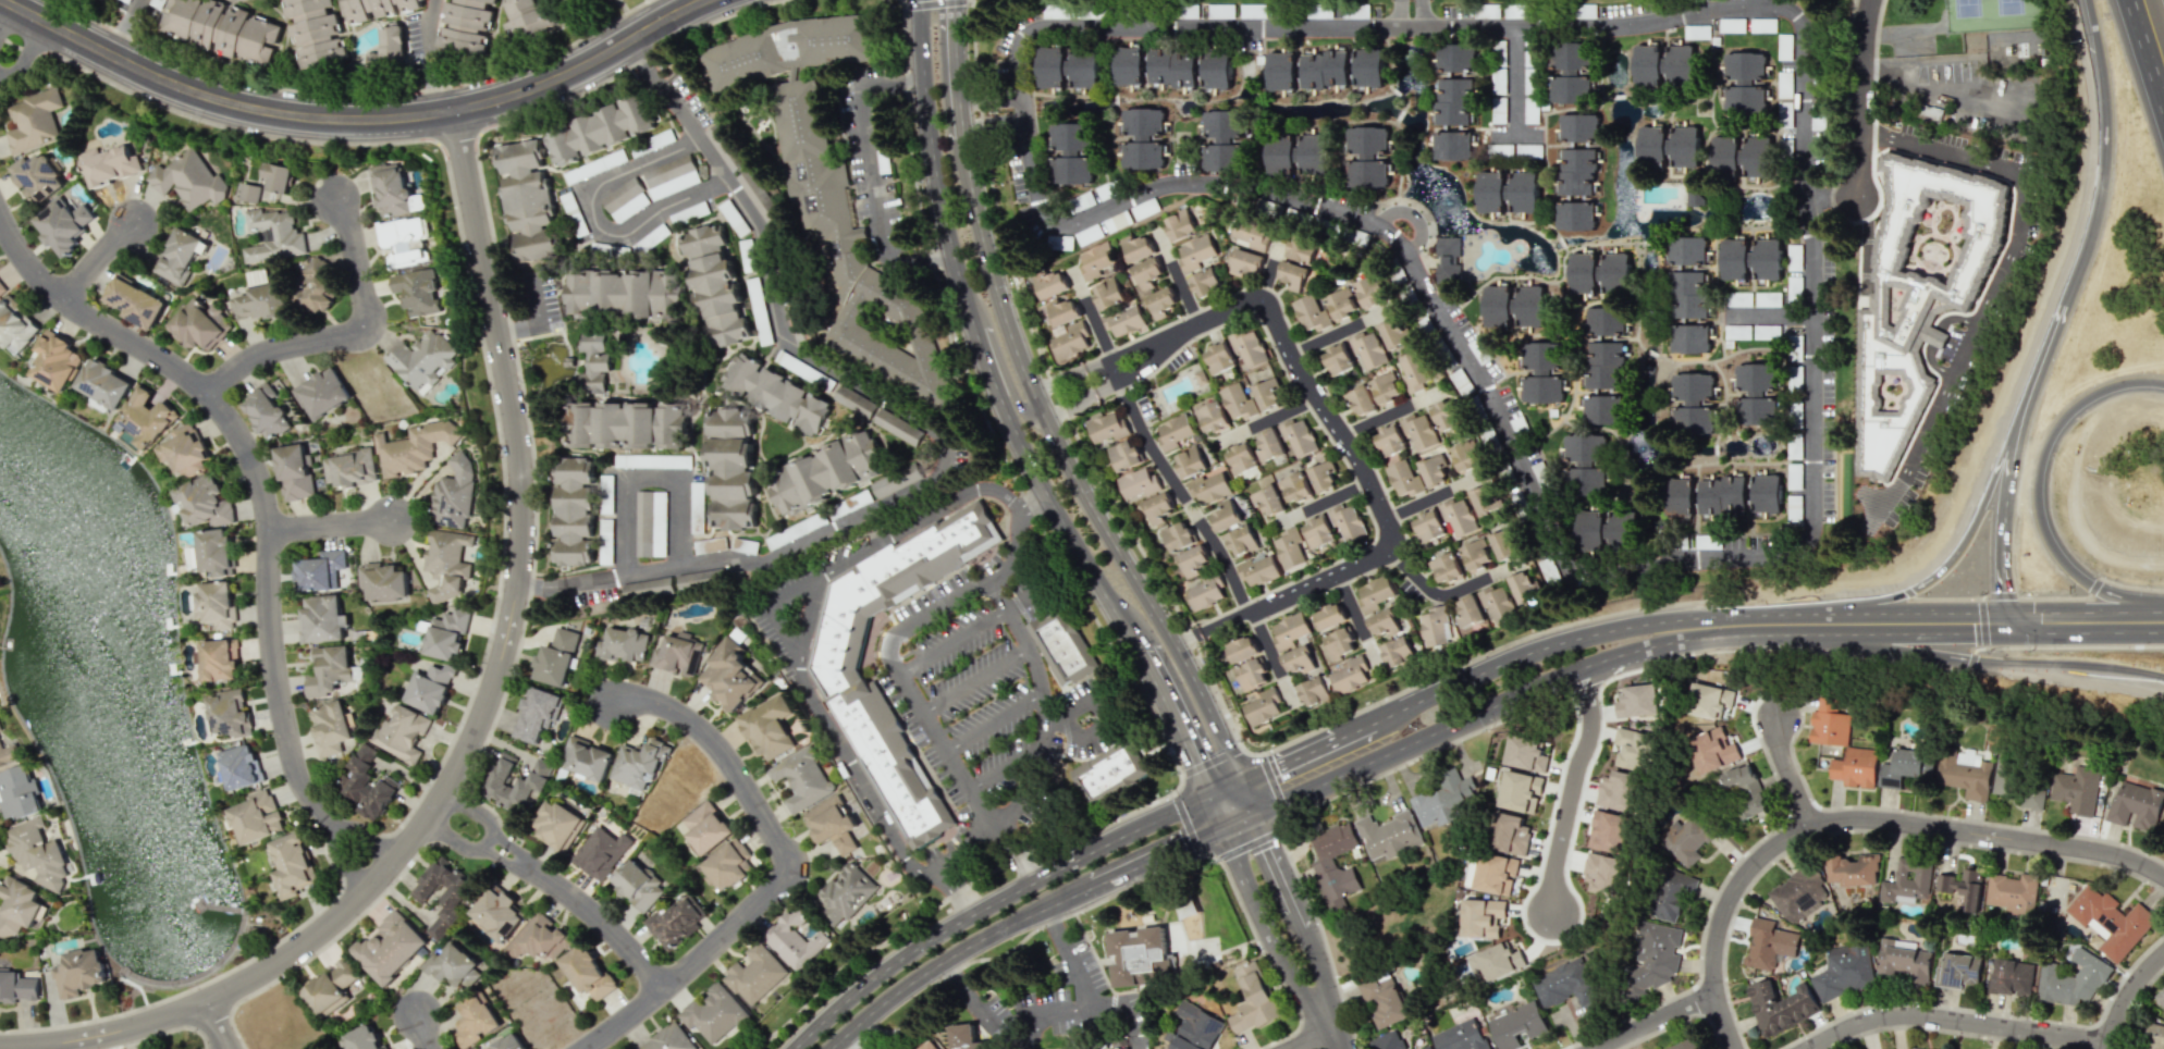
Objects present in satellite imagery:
building: (380, 8)
building: (1318, 11)
building: (1485, 11)
road: (1400, 14)
road: (1416, 14)
building: (194, 20)
building: (532, 20)
building: (466, 25)
building: (1730, 25)
building: (1762, 25)
road: (1499, 26)
road: (124, 27)
building: (234, 32)
road: (2094, 32)
building: (316, 33)
building: (260, 40)
building: (392, 44)
road: (15, 45)
road: (2147, 52)
road: (431, 57)
building: (1455, 57)
building: (1680, 64)
building: (1128, 65)
building: (1647, 65)
building: (1050, 66)
building: (1171, 66)
road: (955, 67)
building: (1368, 67)
building: (1084, 69)
building: (1324, 69)
building: (1216, 70)
building: (1498, 70)
building: (1280, 71)
building: (1571, 72)
road: (1515, 77)
building: (1528, 81)
building: (1744, 83)
road: (1941, 87)
road: (1859, 98)
building: (1453, 101)
building: (1530, 110)
road: (988, 114)
building: (1783, 118)
road: (356, 120)
building: (34, 121)
building: (1577, 127)
building: (603, 128)
building: (1142, 138)
building: (657, 139)
building: (720, 140)
building: (1221, 140)
building: (1651, 145)
building: (1452, 146)
building: (1685, 147)
building: (1314, 151)
building: (1070, 153)
building: (1724, 153)
building: (1279, 155)
building: (1367, 156)
building: (1758, 157)
building: (109, 164)
building: (1576, 171)
building: (37, 176)
building: (278, 176)
building: (672, 176)
road: (872, 176)
building: (189, 180)
road: (2101, 185)
building: (391, 188)
building: (832, 190)
building: (1490, 192)
building: (1523, 192)
building: (249, 193)
building: (1694, 195)
building: (758, 196)
road: (1832, 197)
building: (528, 199)
building: (625, 200)
building: (1082, 200)
road: (588, 214)
road: (1412, 214)
building: (1575, 215)
building: (735, 220)
building: (63, 224)
building: (1179, 225)
building: (1251, 234)
building: (274, 236)
building: (403, 239)
building: (1136, 247)
building: (1300, 248)
building: (1686, 249)
building: (1195, 252)
building: (748, 255)
building: (180, 256)
building: (1793, 257)
building: (1448, 259)
building: (1733, 259)
building: (1766, 259)
road: (98, 260)
building: (1097, 261)
building: (1244, 262)
building: (1615, 271)
building: (1146, 272)
road: (1268, 272)
building: (1583, 273)
building: (1292, 275)
road: (2000, 275)
road: (1179, 280)
building: (1205, 282)
building: (1049, 283)
building: (316, 286)
building: (715, 286)
building: (2, 288)
building: (418, 292)
building: (1368, 292)
building: (1916, 292)
building: (1106, 293)
building: (1688, 294)
building: (623, 295)
building: (1737, 299)
building: (1766, 299)
building: (261, 300)
building: (135, 301)
building: (1160, 301)
building: (1340, 304)
building: (1497, 305)
building: (1530, 306)
building: (1061, 311)
building: (1310, 312)
road: (1768, 313)
road: (1092, 320)
building: (1123, 320)
building: (1604, 320)
building: (15, 324)
building: (199, 324)
building: (1736, 331)
road: (1333, 332)
building: (1394, 334)
road: (348, 336)
building: (1689, 338)
building: (1070, 341)
road: (980, 342)
building: (1249, 347)
building: (1366, 350)
road: (994, 355)
building: (1218, 357)
road: (2043, 357)
building: (422, 359)
building: (1336, 359)
building: (56, 360)
building: (594, 361)
building: (789, 361)
building: (1603, 365)
road: (1093, 366)
building: (1416, 370)
building: (1541, 372)
building: (1794, 377)
building: (104, 383)
road: (1105, 384)
building: (1384, 388)
building: (323, 393)
building: (1267, 393)
building: (1755, 393)
building: (779, 394)
building: (1237, 400)
building: (1360, 400)
building: (1692, 403)
building: (858, 404)
building: (1602, 409)
building: (267, 411)
road: (1389, 415)
building: (1446, 416)
building: (1212, 417)
building: (145, 418)
road: (1269, 419)
road: (1500, 420)
road: (923, 422)
building: (578, 425)
building: (640, 425)
building: (897, 427)
building: (1106, 427)
building: (1418, 430)
building: (1172, 431)
building: (1298, 436)
road: (1342, 440)
building: (1388, 440)
building: (1268, 444)
building: (413, 447)
building: (184, 451)
building: (1123, 455)
building: (1464, 455)
building: (1240, 458)
building: (654, 460)
building: (1189, 461)
building: (1584, 464)
building: (731, 467)
building: (351, 468)
building: (1433, 470)
building: (294, 471)
road: (1070, 471)
building: (825, 472)
building: (1321, 476)
road: (652, 477)
building: (1402, 478)
building: (896, 480)
building: (1138, 482)
road: (1176, 486)
building: (1208, 488)
building: (1293, 488)
road: (2041, 492)
building: (697, 493)
building: (1766, 493)
building: (454, 494)
building: (1721, 495)
building: (1679, 496)
building: (1266, 499)
road: (1325, 499)
road: (1426, 499)
building: (1483, 499)
building: (204, 502)
road: (265, 504)
building: (1155, 508)
road: (939, 510)
building: (574, 511)
building: (1225, 516)
building: (1456, 516)
road: (2004, 517)
building: (1347, 521)
building: (650, 523)
road: (678, 523)
building: (1427, 526)
road: (620, 528)
building: (1622, 528)
road: (332, 529)
building: (1589, 530)
road: (1013, 531)
building: (1316, 531)
building: (1178, 535)
building: (1240, 540)
building: (605, 541)
building: (1502, 543)
building: (1288, 548)
road: (1959, 550)
building: (216, 552)
building: (1474, 554)
building: (1192, 560)
building: (446, 563)
road: (838, 566)
building: (1446, 568)
building: (1257, 569)
building: (320, 570)
building: (697, 579)
building: (383, 580)
building: (647, 587)
building: (1522, 589)
road: (795, 590)
building: (1205, 592)
building: (1375, 592)
road: (1442, 594)
road: (946, 602)
building: (1497, 603)
building: (217, 604)
building: (1467, 610)
building: (1328, 615)
road: (1355, 617)
building: (322, 618)
road: (2085, 620)
road: (1918, 621)
building: (1382, 622)
road: (1756, 624)
road: (1210, 626)
building: (1434, 627)
road: (787, 629)
building: (1289, 630)
building: (446, 633)
road: (889, 641)
road: (951, 641)
building: (1339, 642)
road: (1664, 642)
building: (625, 644)
building: (1062, 644)
road: (2068, 645)
building: (1240, 649)
building: (1397, 652)
road: (1269, 654)
road: (1523, 654)
building: (678, 655)
building: (556, 657)
building: (218, 658)
building: (1298, 659)
road: (1971, 659)
road: (1611, 661)
road: (1032, 663)
road: (1995, 663)
building: (329, 670)
building: (837, 674)
building: (1251, 674)
building: (1350, 675)
building: (728, 676)
road: (973, 678)
building: (431, 688)
road: (1772, 689)
building: (1313, 691)
building: (1709, 700)
building: (1637, 701)
building: (1262, 706)
road: (1075, 707)
building: (230, 713)
building: (536, 714)
road: (482, 717)
road: (992, 719)
road: (1180, 720)
building: (1829, 723)
building: (330, 727)
building: (767, 727)
building: (0, 729)
road: (1354, 729)
building: (402, 732)
road: (836, 738)
road: (942, 744)
road: (1409, 749)
building: (1631, 749)
building: (1712, 750)
building: (8, 753)
building: (1526, 753)
road: (1013, 755)
building: (585, 758)
road: (1280, 763)
building: (638, 765)
building: (1904, 765)
building: (238, 766)
building: (1855, 767)
building: (1109, 769)
road: (1587, 769)
road: (1790, 774)
building: (2004, 774)
building: (1963, 775)
building: (344, 778)
building: (800, 778)
building: (531, 781)
building: (368, 783)
traffic signals: (1224, 788)
building: (2075, 789)
building: (1520, 791)
road: (1570, 791)
building: (1618, 791)
building: (1745, 791)
building: (19, 792)
building: (2031, 795)
road: (1229, 799)
building: (1446, 799)
road: (1314, 802)
building: (2136, 805)
traffic signals: (1234, 811)
building: (256, 817)
road: (1858, 819)
building: (832, 824)
building: (556, 825)
building: (705, 827)
road: (1864, 828)
building: (1608, 830)
building: (2162, 830)
road: (986, 831)
building: (1508, 834)
building: (1388, 835)
building: (1684, 839)
road: (1161, 847)
road: (1948, 848)
building: (601, 852)
road: (1733, 852)
building: (37, 853)
road: (1016, 853)
building: (292, 864)
building: (728, 864)
building: (1335, 865)
building: (1854, 869)
road: (782, 871)
building: (1495, 873)
building: (1602, 873)
building: (1907, 881)
building: (637, 885)
building: (1963, 887)
road: (562, 888)
road: (952, 891)
building: (1798, 892)
building: (2012, 892)
building: (443, 893)
building: (1671, 893)
building: (845, 894)
road: (996, 900)
building: (20, 905)
building: (496, 913)
road: (1296, 914)
building: (1480, 917)
building: (676, 920)
building: (2108, 922)
road: (1267, 927)
building: (538, 938)
building: (796, 938)
building: (1768, 943)
building: (390, 947)
road: (878, 948)
building: (1134, 952)
road: (951, 954)
road: (1067, 957)
building: (1652, 959)
building: (1902, 960)
building: (1496, 961)
building: (452, 966)
building: (1958, 970)
building: (1845, 971)
building: (78, 972)
building: (587, 972)
building: (754, 974)
building: (2012, 977)
building: (2071, 979)
building: (1564, 984)
building: (16, 986)
building: (330, 988)
building: (2160, 996)
road: (2128, 997)
building: (1382, 998)
building: (1252, 999)
building: (1780, 1005)
road: (1987, 1010)
building: (714, 1014)
building: (475, 1019)
road: (1658, 1021)
road: (1676, 1022)
road: (1959, 1023)
road: (220, 1024)
road: (1019, 1025)
building: (1516, 1025)
road: (1130, 1026)
building: (1192, 1028)
road: (1952, 1031)
road: (428, 1033)
building: (1460, 1036)
building: (2153, 1036)
building: (963, 1037)
building: (362, 1039)
building: (668, 1039)
road: (1315, 1039)
road: (1341, 1039)
building: (1386, 1041)
building: (507, 1042)
building: (926, 1045)
building: (1684, 1045)
road: (837, 1046)
building: (1427, 1047)
building: (1084, 1048)
building: (1123, 1048)
building: (1915, 1048)

